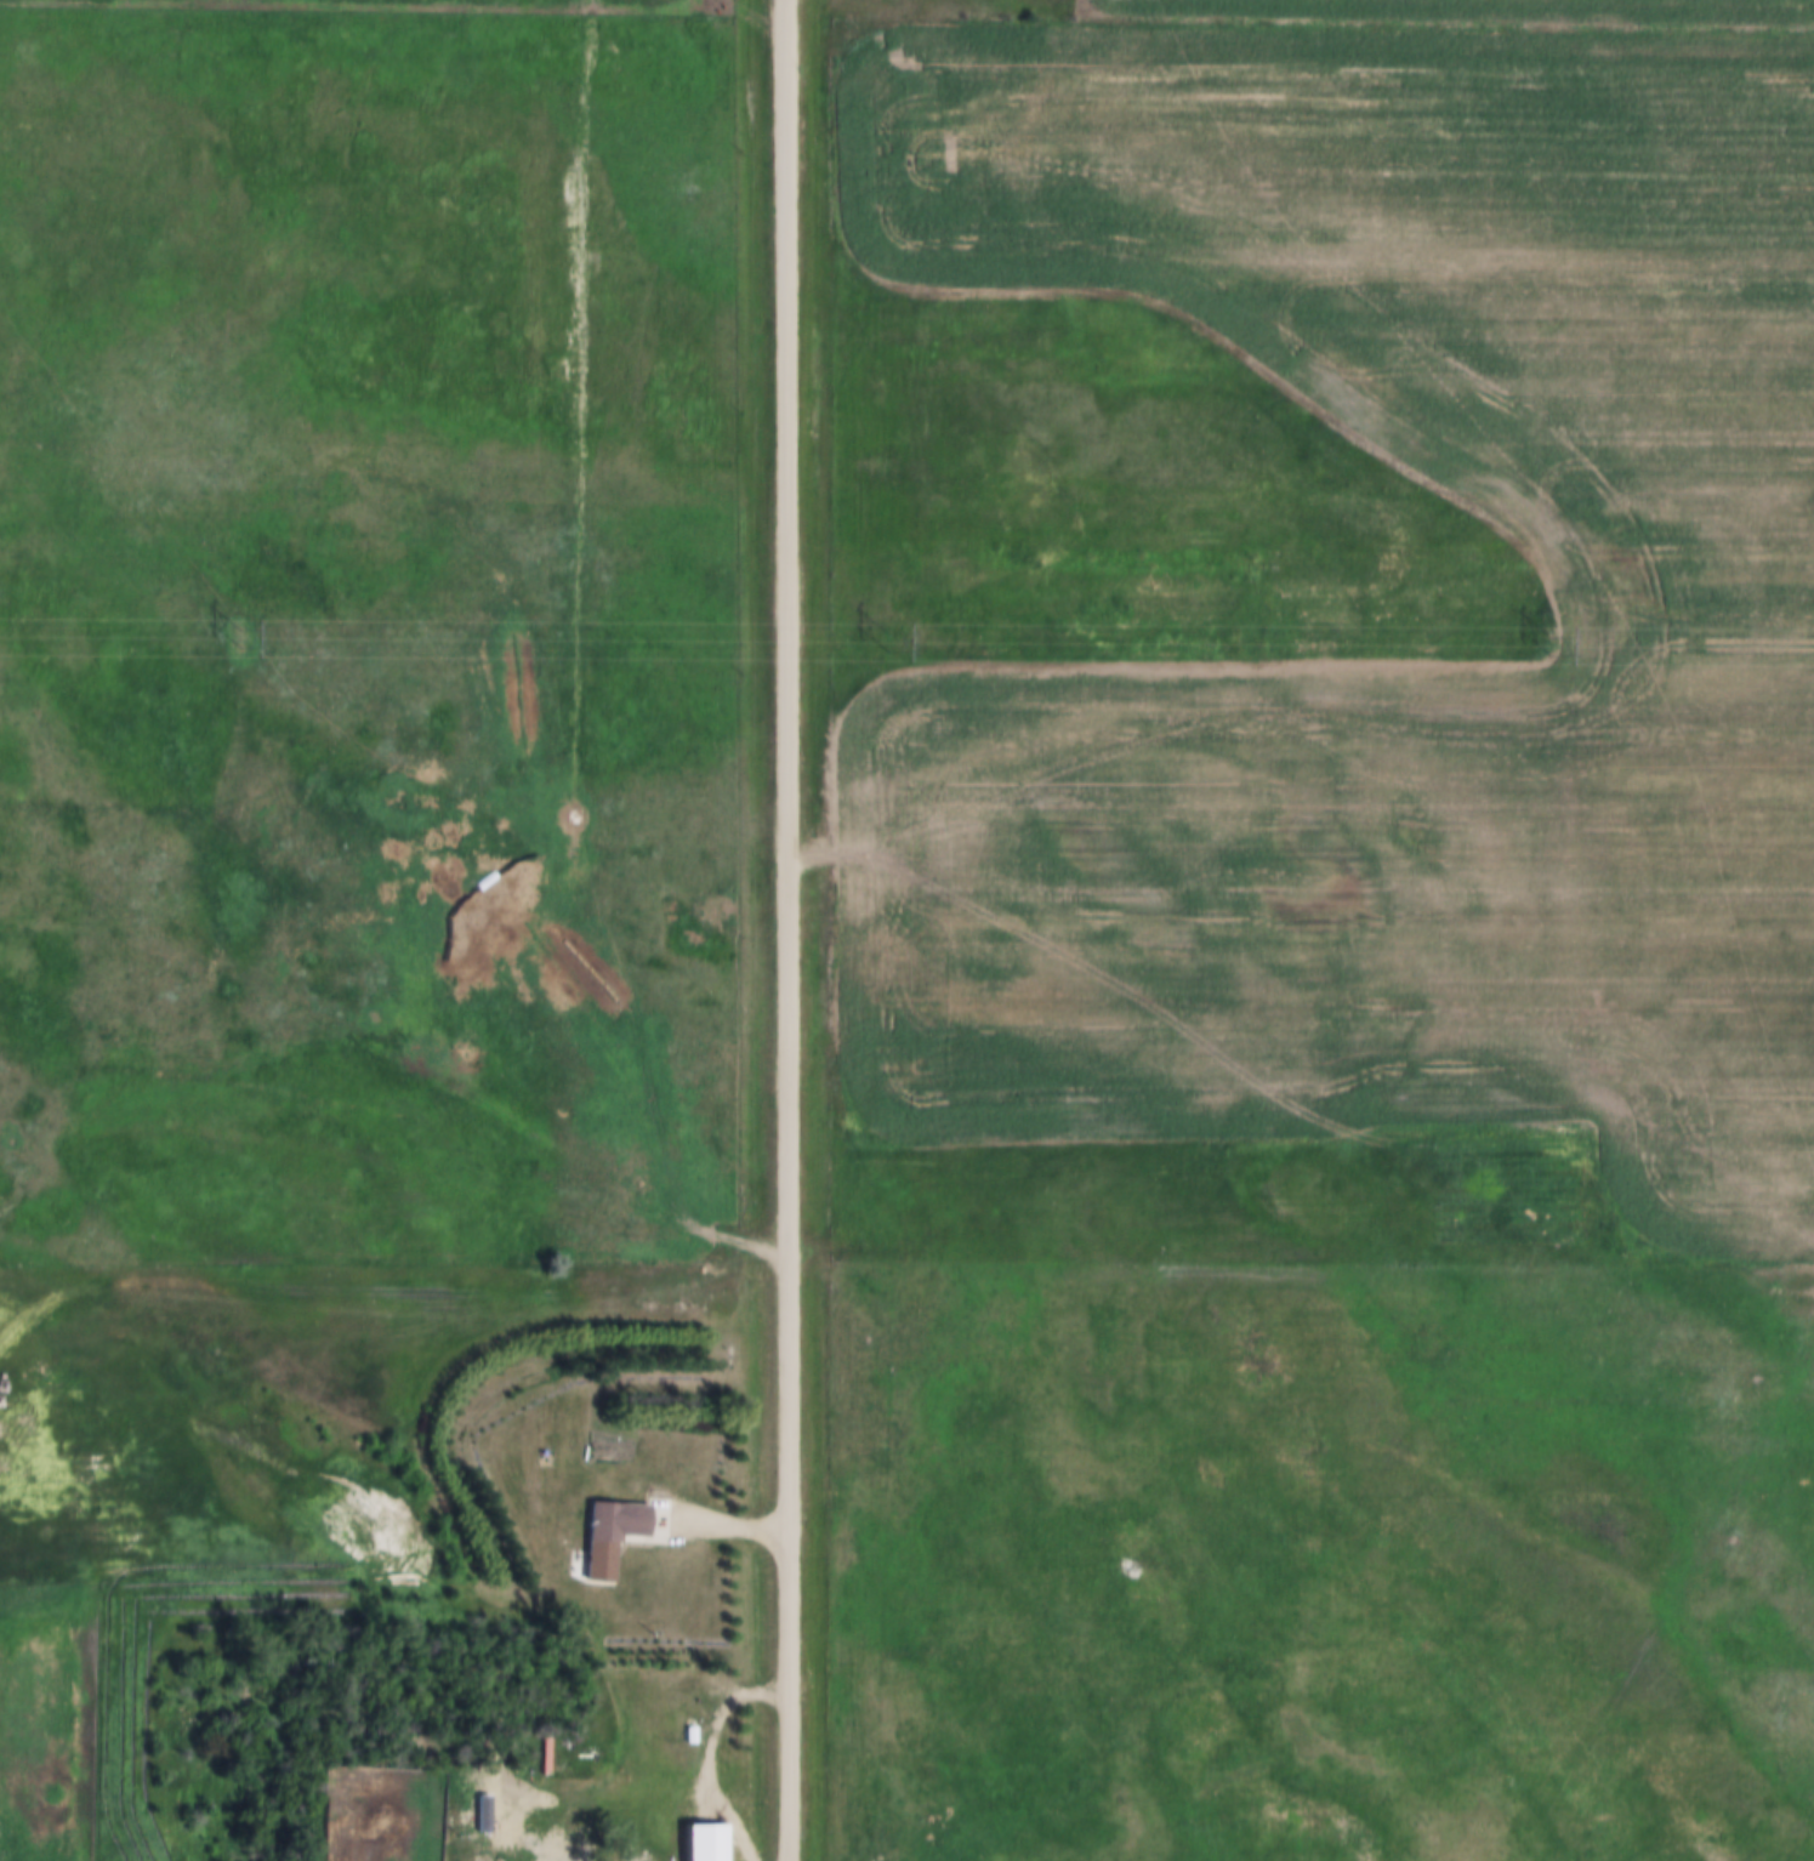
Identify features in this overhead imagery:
power tower: (231, 636)
power tower: (888, 639)
power tower: (1570, 648)
road: (791, 929)
building: (612, 1532)
road: (718, 1679)
building: (707, 1842)
building: (563, 1857)

